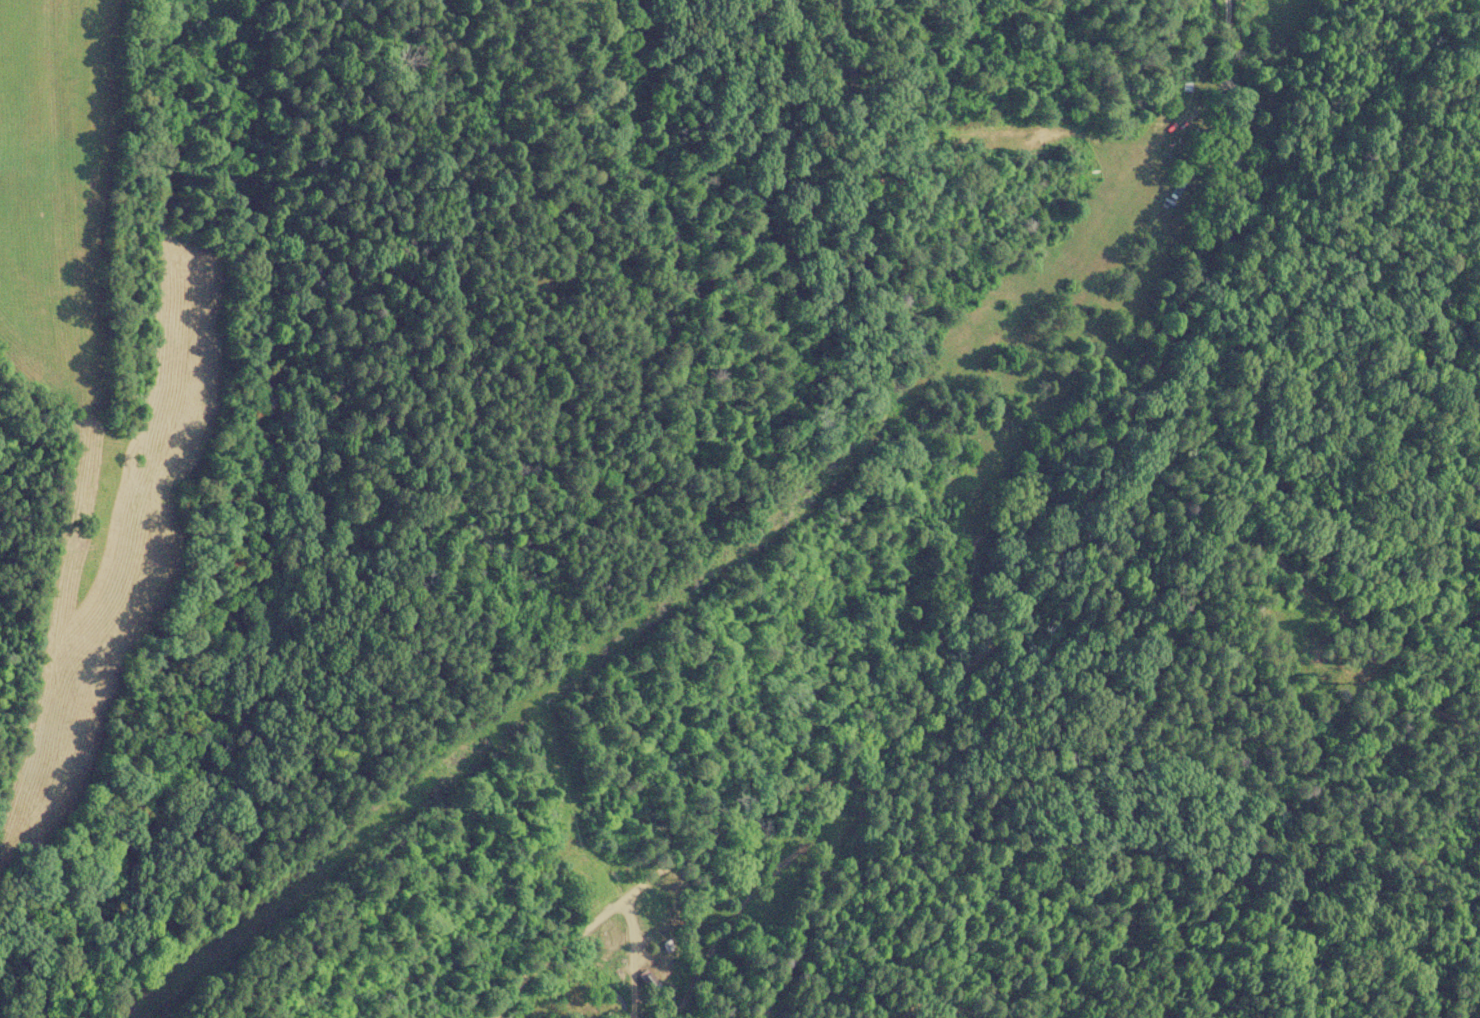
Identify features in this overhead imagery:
road: (988, 606)
building: (648, 982)

